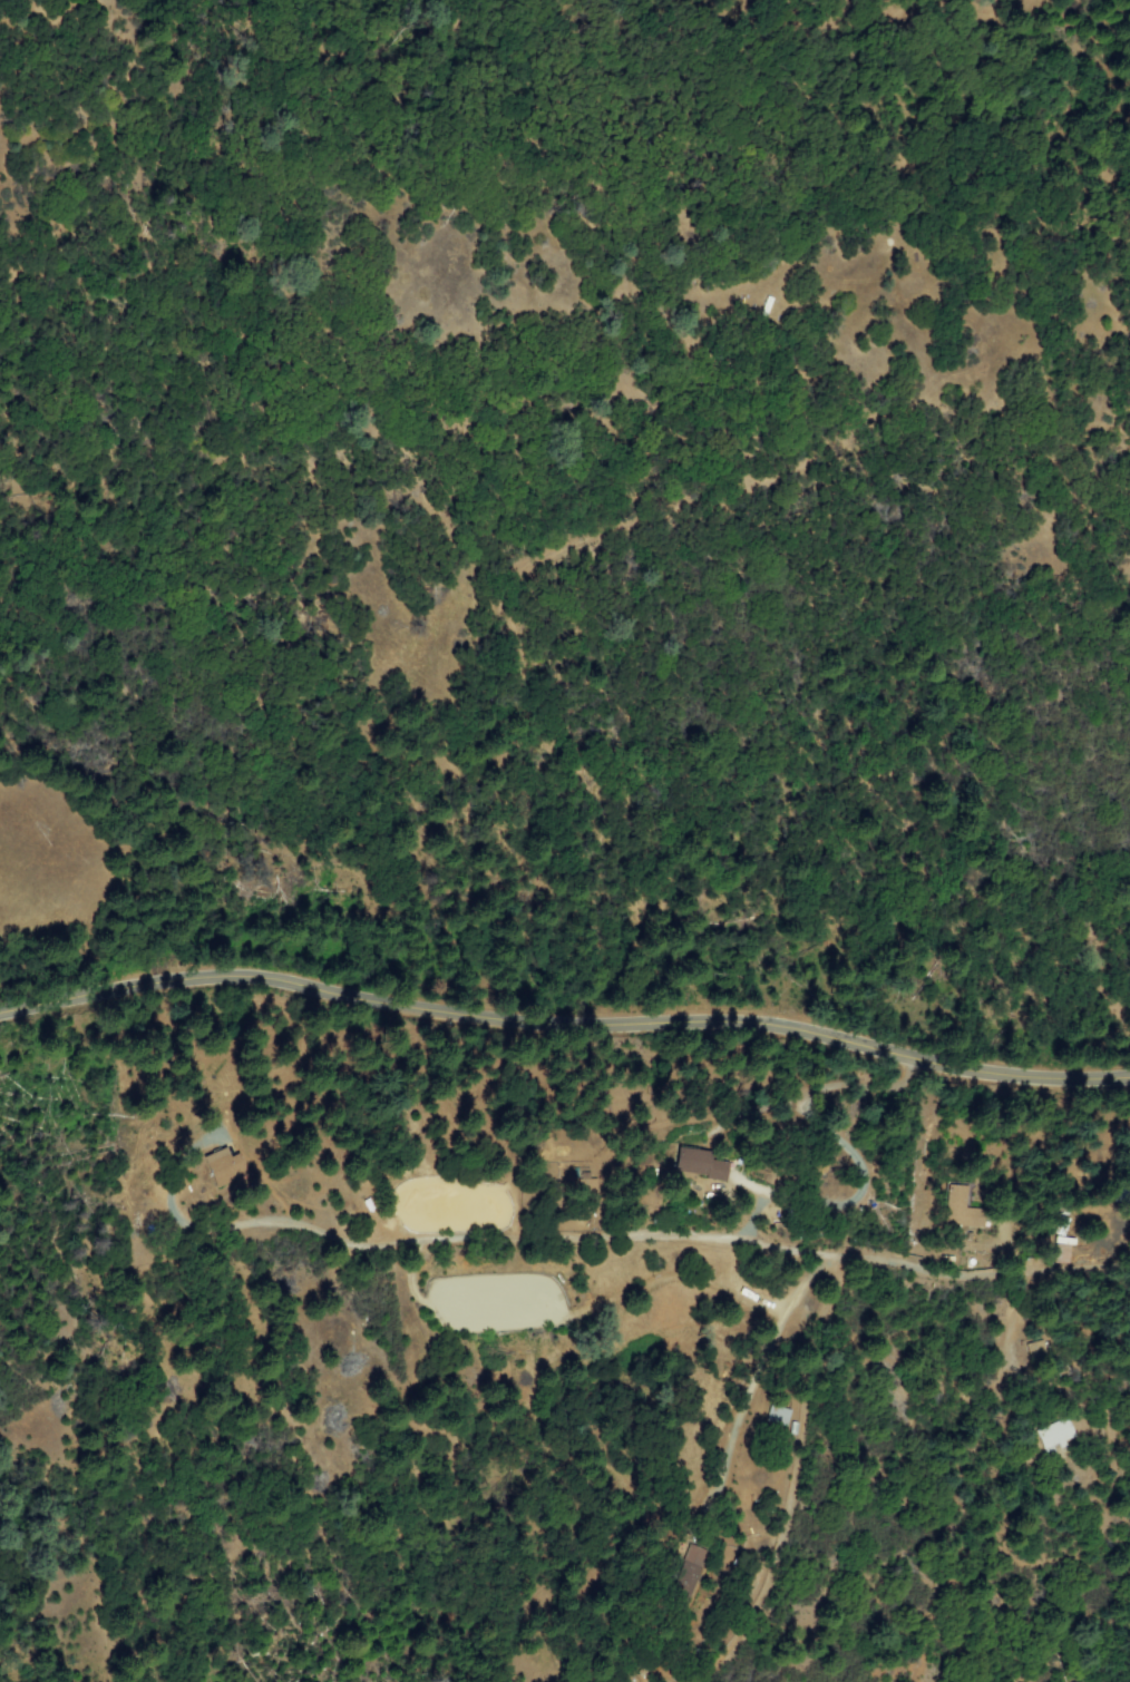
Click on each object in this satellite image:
road: (563, 1025)
building: (694, 1163)
building: (722, 1170)
road: (819, 1331)
building: (779, 1417)
building: (1052, 1436)

